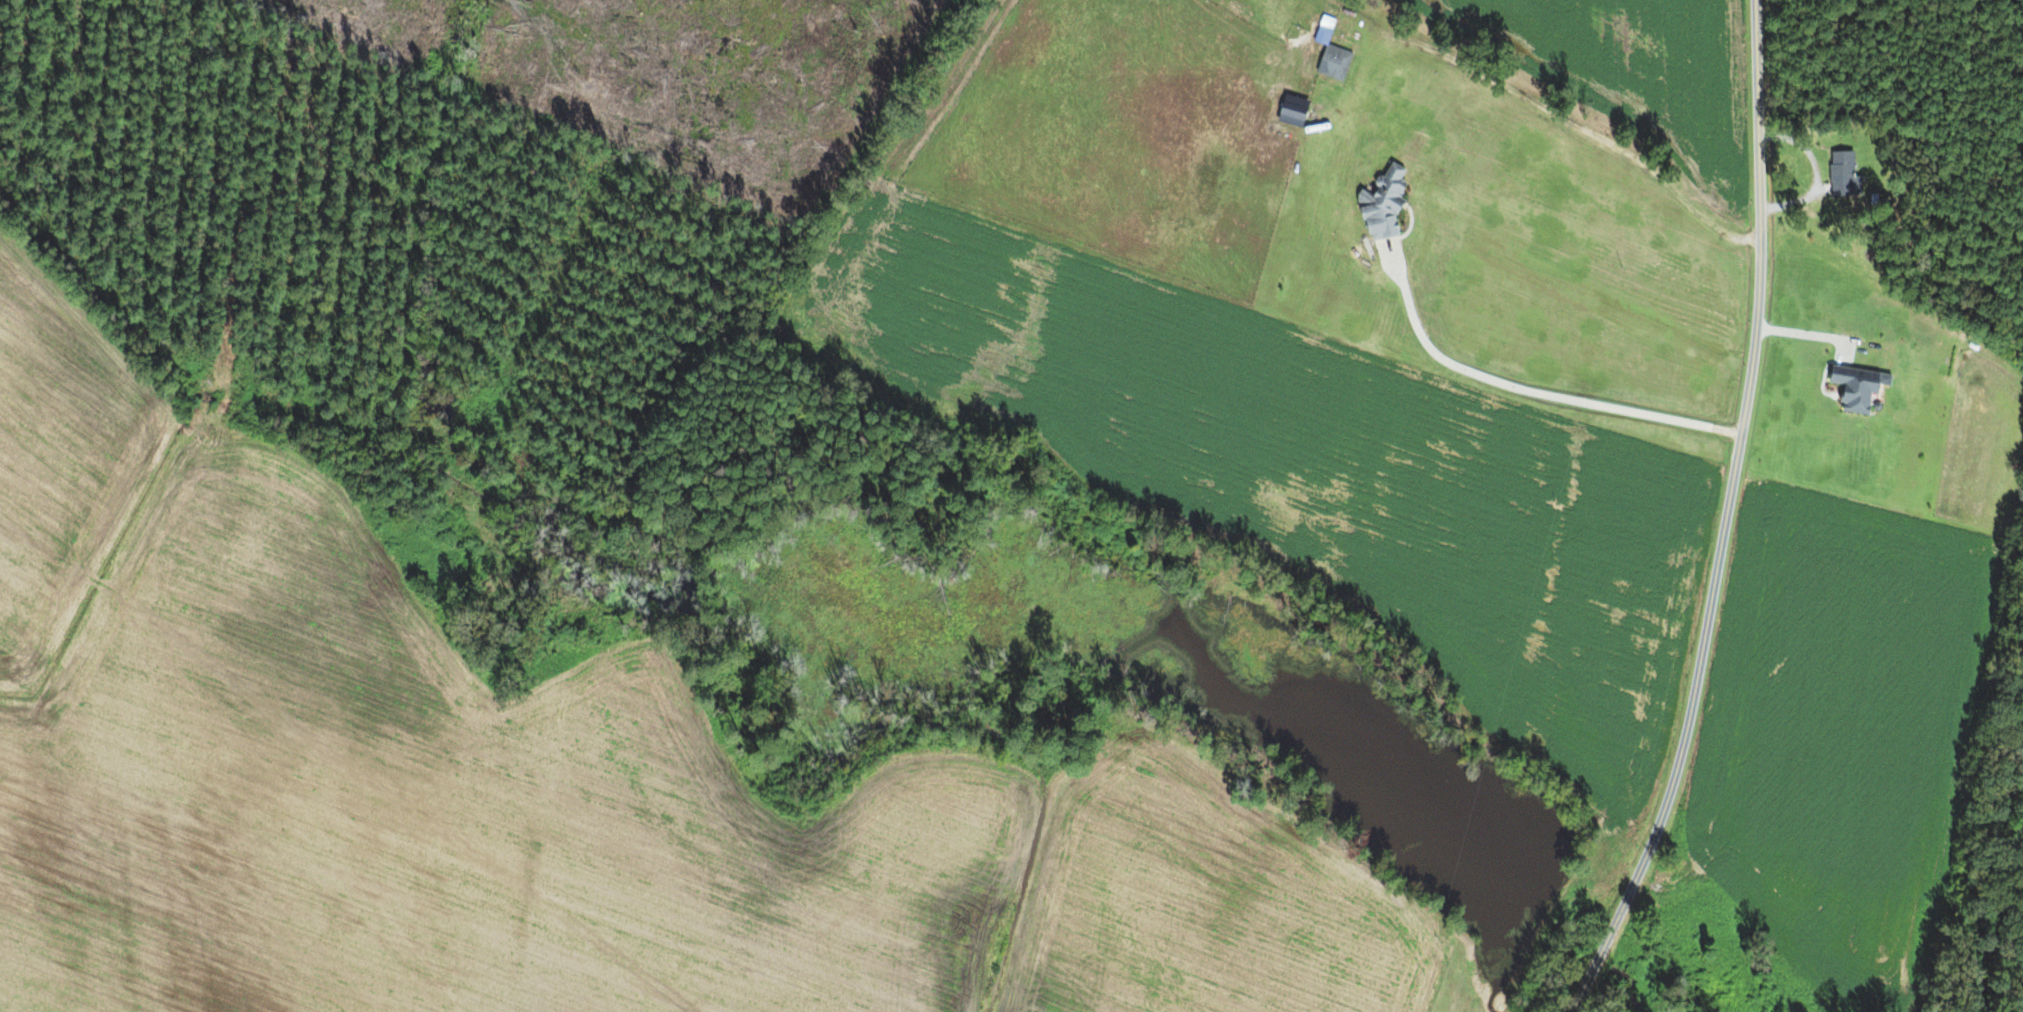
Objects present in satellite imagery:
crop: (1630, 73)
building: (1839, 172)
road: (1725, 517)

